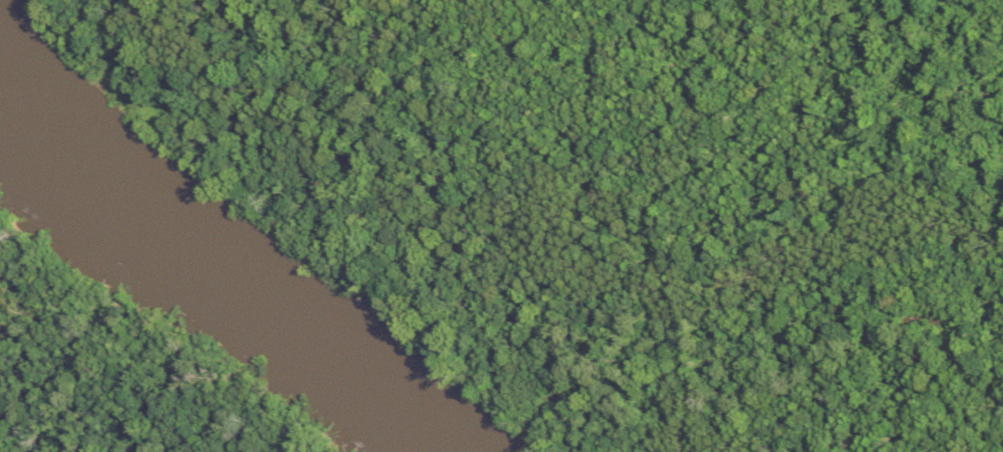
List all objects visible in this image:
river: (213, 269)

